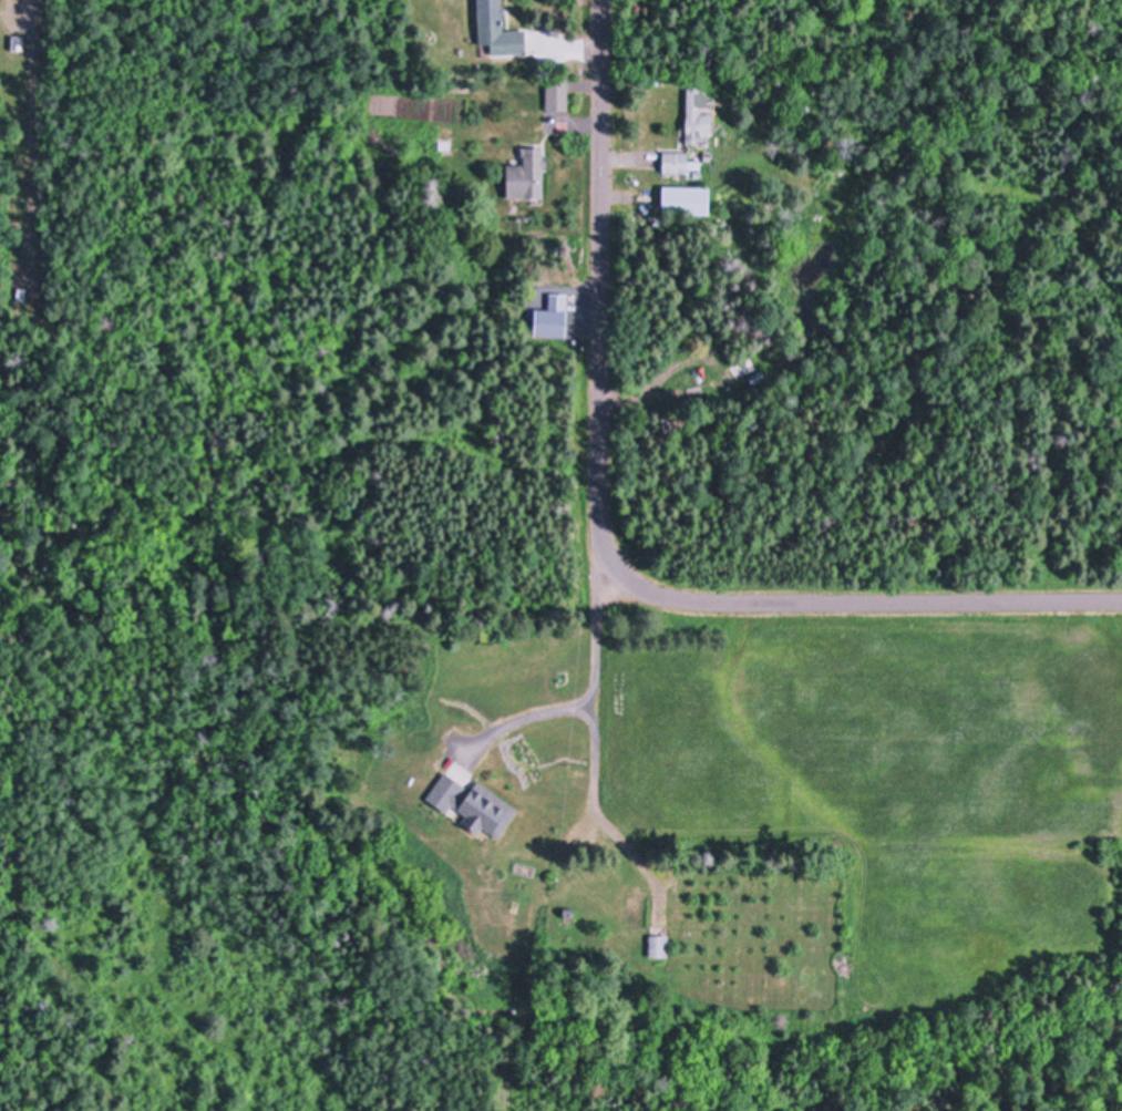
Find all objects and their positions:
building: (497, 28)
building: (17, 41)
building: (524, 81)
building: (556, 91)
building: (697, 115)
building: (679, 161)
building: (527, 173)
building: (686, 197)
building: (21, 291)
building: (756, 374)
building: (718, 381)
road: (605, 543)
road: (528, 717)
road: (595, 732)
building: (539, 771)
building: (473, 803)
building: (637, 907)
building: (568, 915)
building: (658, 944)

